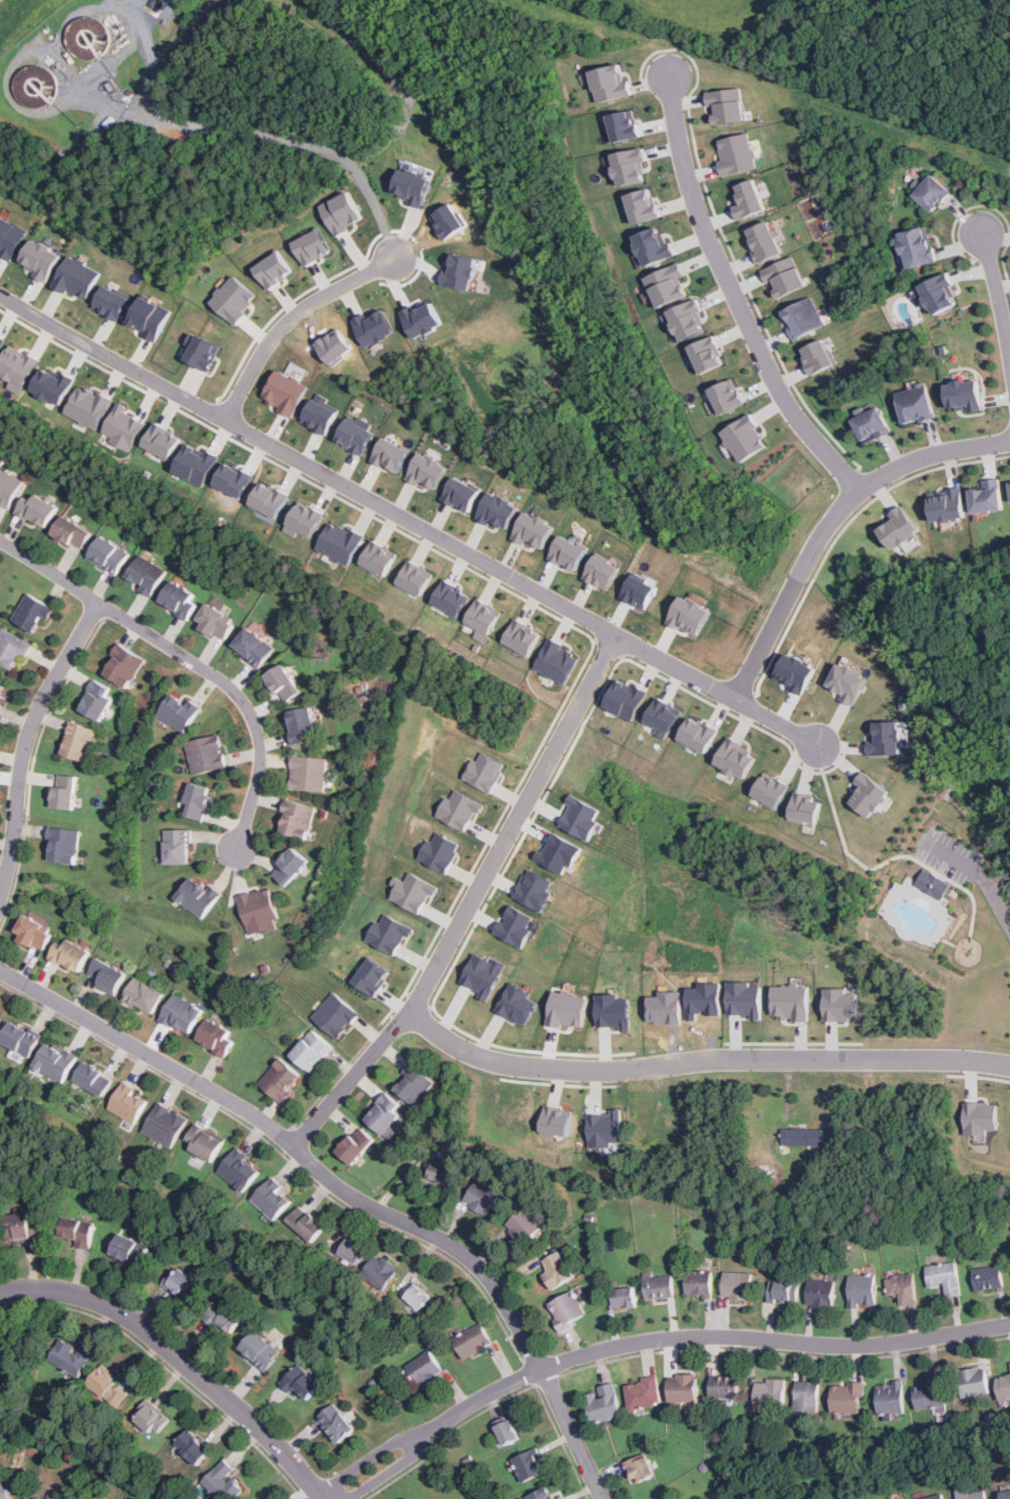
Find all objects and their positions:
building: (610, 82)
building: (725, 104)
building: (625, 125)
road: (308, 143)
building: (735, 153)
building: (630, 166)
building: (412, 186)
building: (933, 193)
building: (746, 199)
building: (643, 205)
building: (341, 212)
building: (10, 236)
building: (762, 242)
building: (312, 246)
building: (653, 246)
building: (918, 246)
building: (41, 259)
building: (273, 268)
building: (460, 271)
building: (783, 276)
building: (78, 277)
building: (667, 284)
building: (939, 293)
road: (997, 295)
road: (734, 298)
building: (235, 299)
building: (112, 302)
building: (149, 317)
building: (803, 317)
road: (292, 318)
building: (421, 319)
building: (688, 319)
building: (374, 327)
building: (1, 341)
building: (203, 352)
building: (707, 354)
building: (818, 355)
building: (18, 367)
building: (53, 384)
building: (285, 392)
building: (963, 394)
building: (727, 396)
building: (916, 403)
building: (88, 407)
building: (320, 413)
building: (873, 424)
building: (123, 426)
building: (356, 433)
building: (745, 438)
building: (162, 440)
building: (391, 454)
building: (196, 464)
building: (428, 471)
building: (234, 479)
building: (8, 487)
building: (462, 493)
building: (988, 497)
building: (269, 499)
building: (947, 504)
building: (37, 509)
building: (499, 510)
road: (410, 518)
building: (304, 520)
road: (833, 523)
building: (900, 529)
building: (535, 530)
building: (72, 532)
building: (340, 542)
building: (569, 552)
building: (108, 554)
building: (378, 557)
building: (603, 572)
building: (146, 574)
building: (414, 577)
building: (641, 591)
building: (180, 599)
building: (449, 599)
building: (32, 613)
building: (690, 615)
building: (481, 619)
building: (216, 621)
building: (521, 637)
building: (253, 646)
building: (12, 648)
road: (191, 657)
building: (557, 661)
building: (123, 665)
building: (795, 672)
building: (848, 682)
building: (283, 683)
building: (2, 691)
building: (628, 698)
building: (96, 699)
building: (0, 705)
building: (179, 712)
building: (664, 716)
building: (302, 724)
building: (700, 734)
building: (886, 738)
building: (77, 741)
road: (27, 743)
building: (207, 754)
building: (737, 758)
road: (34, 760)
building: (483, 770)
building: (308, 773)
building: (770, 789)
building: (65, 791)
building: (868, 794)
building: (198, 801)
building: (805, 807)
building: (459, 809)
building: (580, 816)
building: (297, 819)
building: (63, 845)
building: (178, 846)
building: (438, 851)
building: (560, 852)
building: (290, 866)
road: (982, 875)
building: (933, 883)
building: (535, 889)
building: (413, 891)
building: (198, 896)
road: (469, 899)
building: (258, 907)
building: (517, 925)
building: (33, 931)
building: (390, 933)
building: (70, 953)
building: (484, 973)
building: (108, 974)
building: (373, 976)
building: (144, 994)
building: (744, 998)
building: (792, 1001)
building: (517, 1003)
building: (841, 1003)
building: (568, 1009)
building: (613, 1010)
building: (182, 1013)
building: (336, 1014)
building: (0, 1015)
building: (216, 1036)
building: (20, 1038)
building: (311, 1049)
building: (55, 1060)
road: (700, 1061)
building: (94, 1078)
building: (282, 1079)
road: (331, 1083)
building: (414, 1083)
building: (129, 1102)
building: (385, 1113)
building: (669, 1117)
building: (980, 1117)
building: (556, 1121)
building: (165, 1125)
building: (605, 1131)
building: (803, 1137)
road: (289, 1141)
building: (205, 1142)
building: (356, 1144)
road: (281, 1152)
building: (240, 1169)
building: (440, 1171)
road: (350, 1191)
building: (482, 1196)
building: (273, 1198)
building: (307, 1222)
building: (524, 1226)
building: (21, 1228)
building: (78, 1230)
building: (131, 1249)
building: (350, 1249)
building: (558, 1270)
building: (382, 1272)
building: (945, 1277)
building: (989, 1277)
building: (699, 1282)
building: (181, 1284)
building: (738, 1285)
building: (659, 1286)
building: (903, 1288)
building: (863, 1291)
building: (785, 1292)
building: (821, 1293)
building: (417, 1295)
building: (625, 1297)
building: (568, 1310)
building: (225, 1316)
road: (703, 1336)
building: (473, 1341)
building: (261, 1349)
road: (786, 1350)
building: (6, 1356)
building: (71, 1356)
road: (181, 1358)
building: (1009, 1363)
road: (169, 1367)
building: (426, 1368)
building: (301, 1381)
building: (975, 1381)
road: (538, 1385)
building: (726, 1386)
building: (1004, 1386)
building: (109, 1387)
building: (684, 1388)
building: (772, 1392)
building: (645, 1393)
building: (932, 1393)
building: (808, 1395)
building: (848, 1397)
building: (891, 1398)
road: (497, 1399)
building: (605, 1403)
building: (152, 1419)
building: (336, 1421)
building: (508, 1432)
building: (193, 1446)
road: (368, 1464)
building: (529, 1464)
building: (641, 1467)
road: (389, 1471)
building: (223, 1481)
building: (5, 1490)
building: (970, 1493)
building: (543, 1494)
building: (1006, 1494)
building: (935, 1497)
building: (30, 1498)
building: (257, 1498)
building: (412, 1498)
building: (901, 1498)

